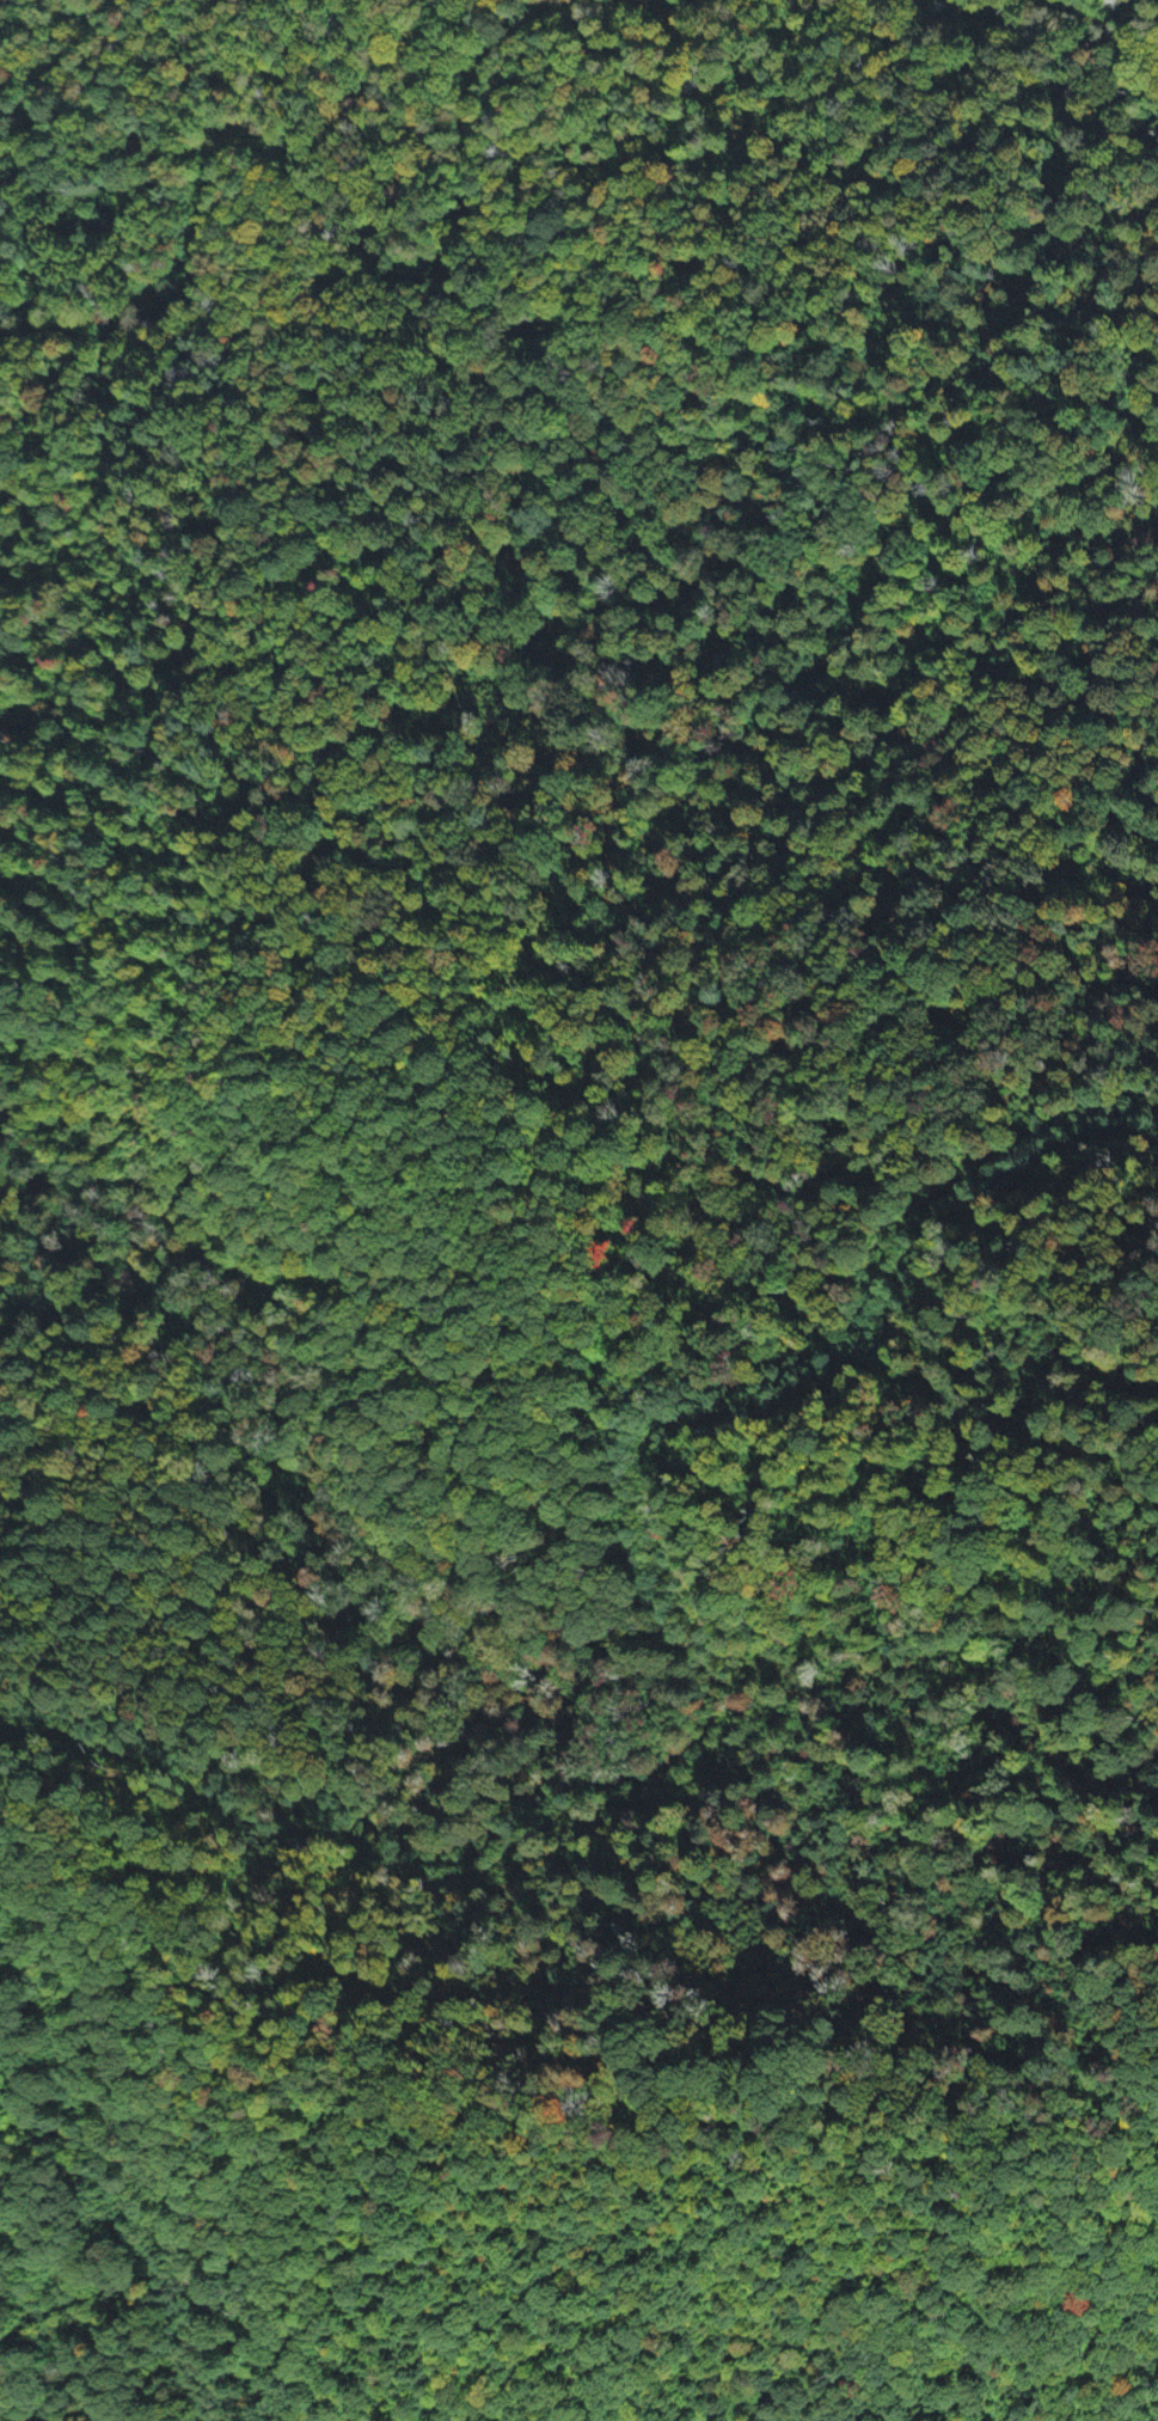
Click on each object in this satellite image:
road: (353, 250)

